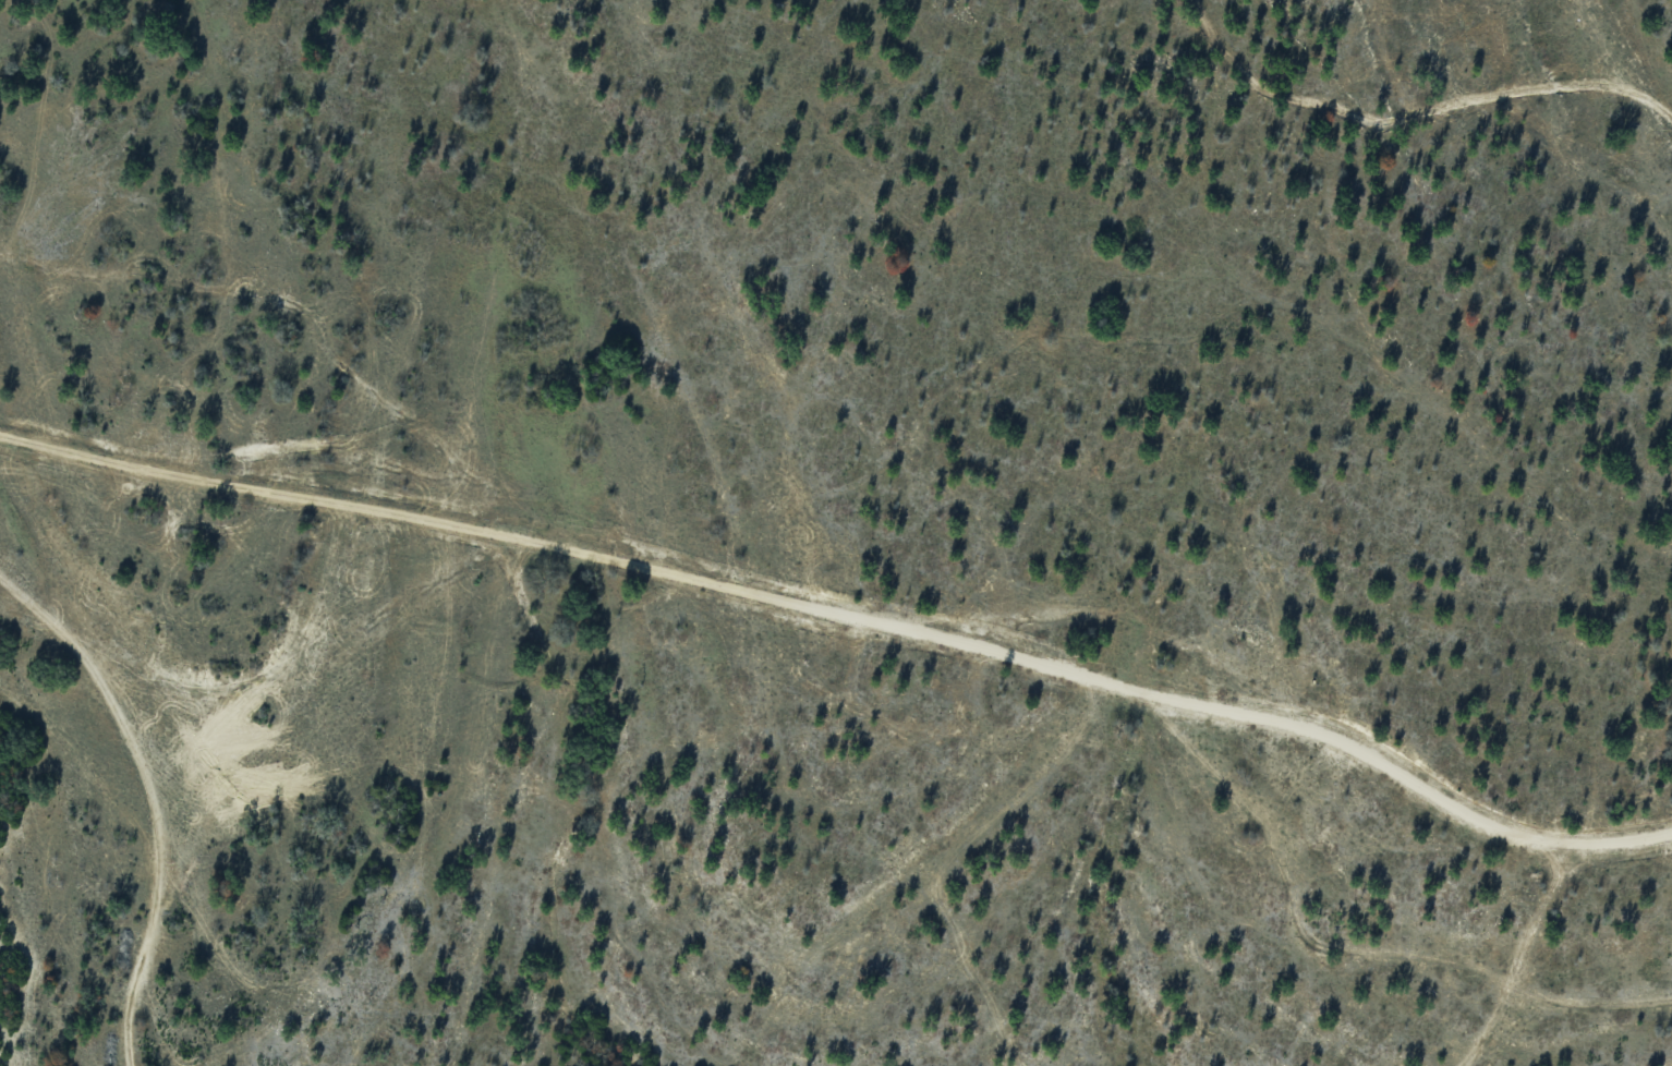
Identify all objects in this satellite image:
road: (850, 604)

